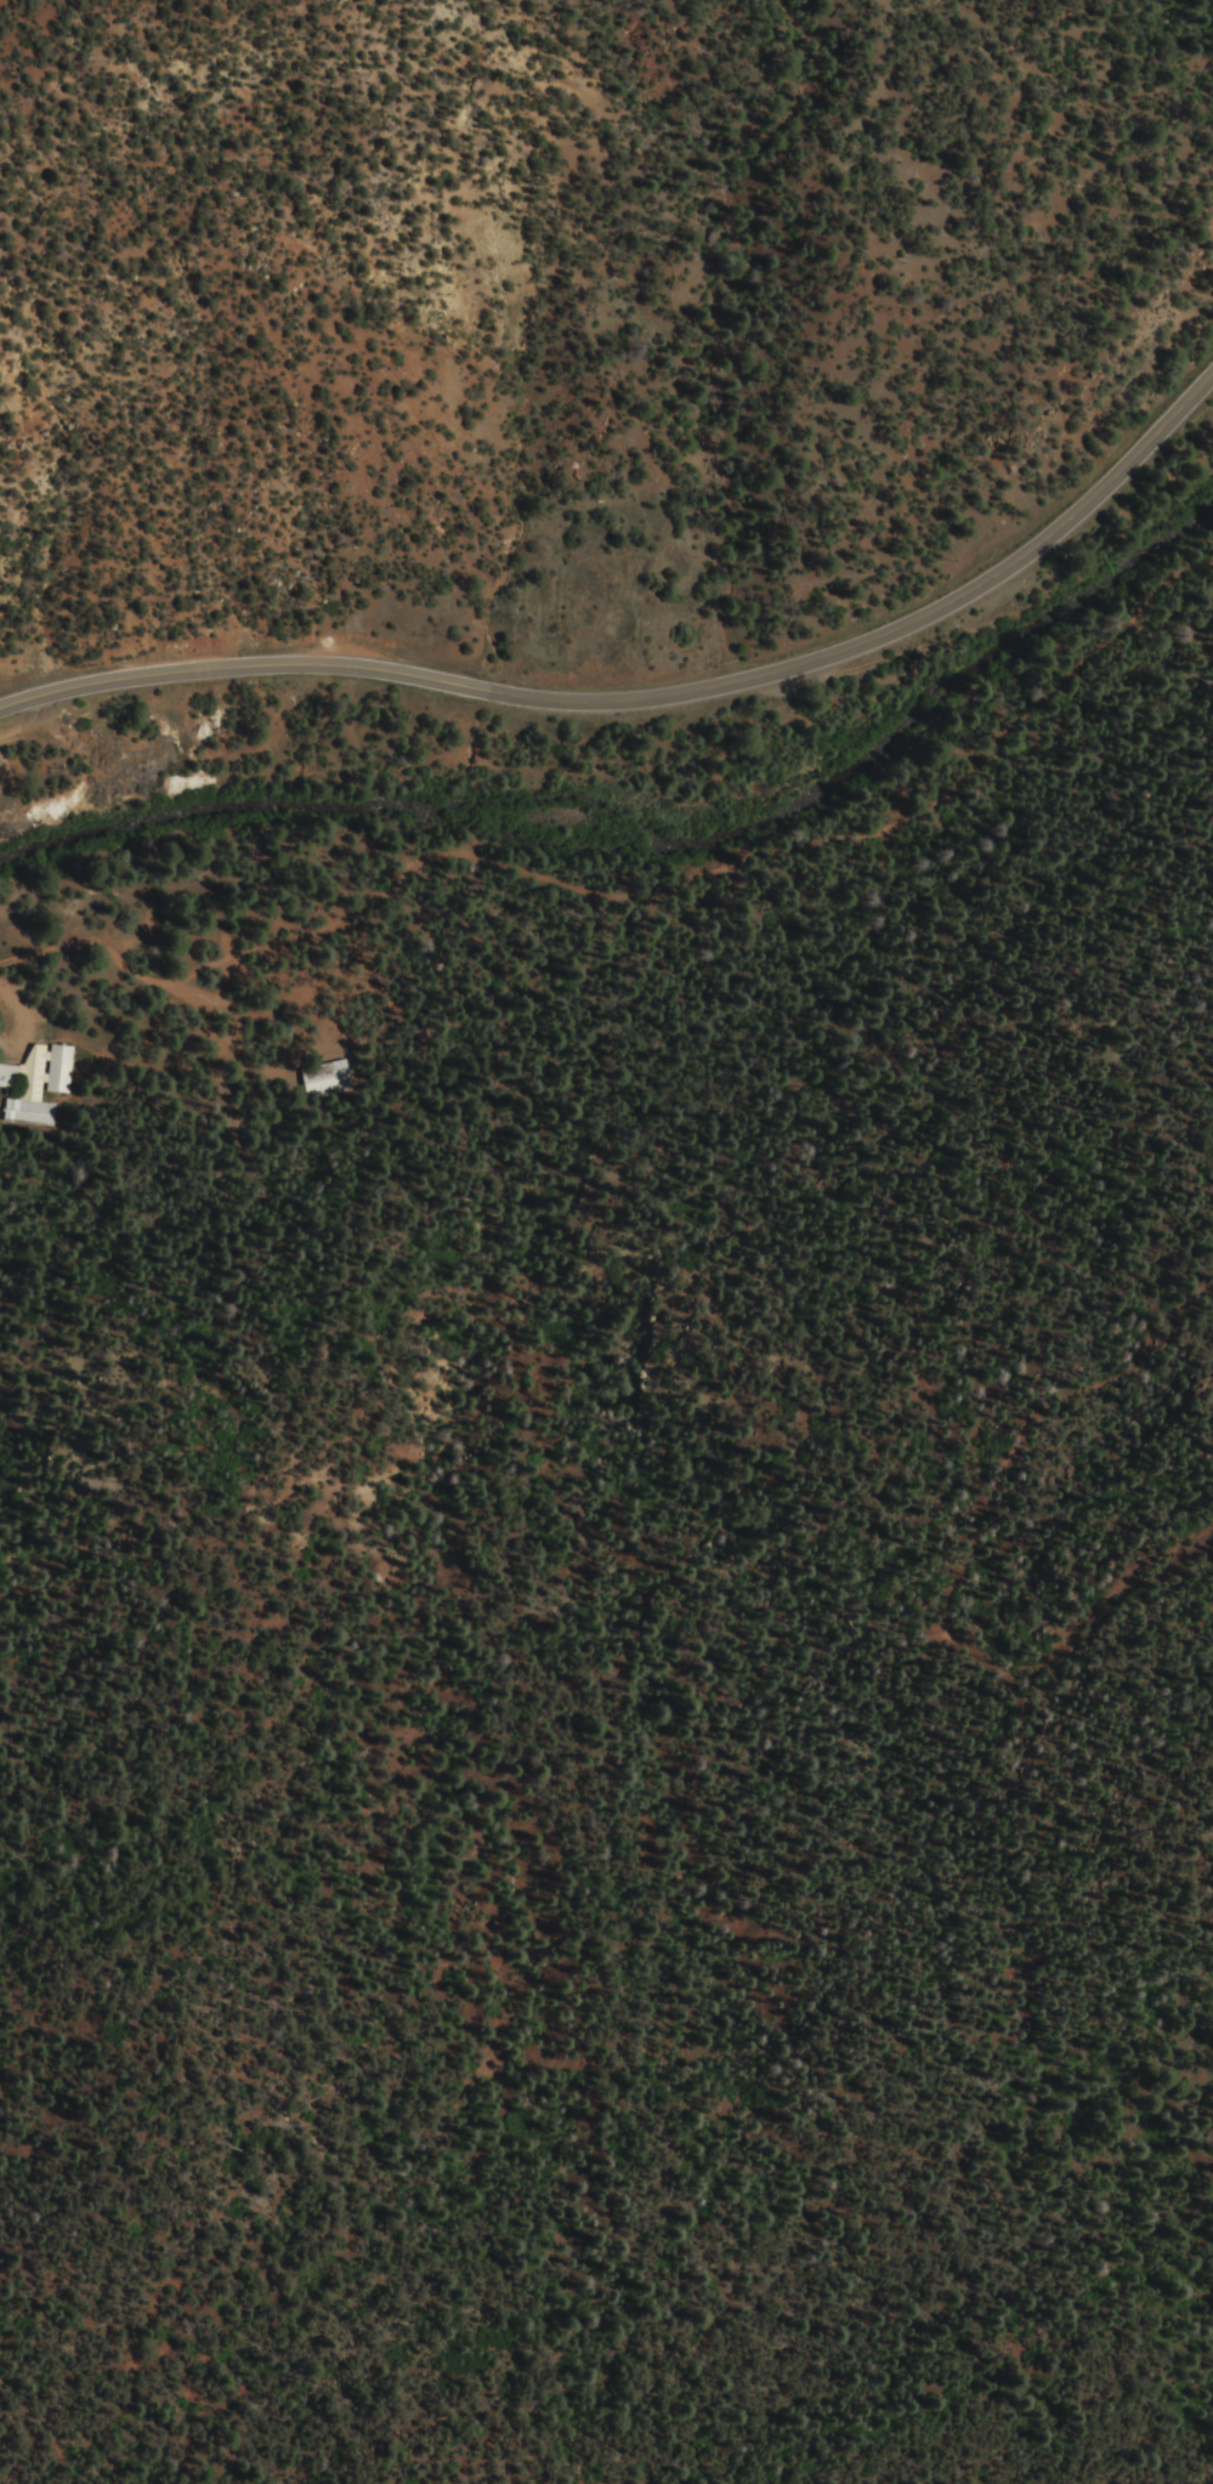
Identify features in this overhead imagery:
road: (653, 696)
building: (327, 1077)
building: (35, 1083)

